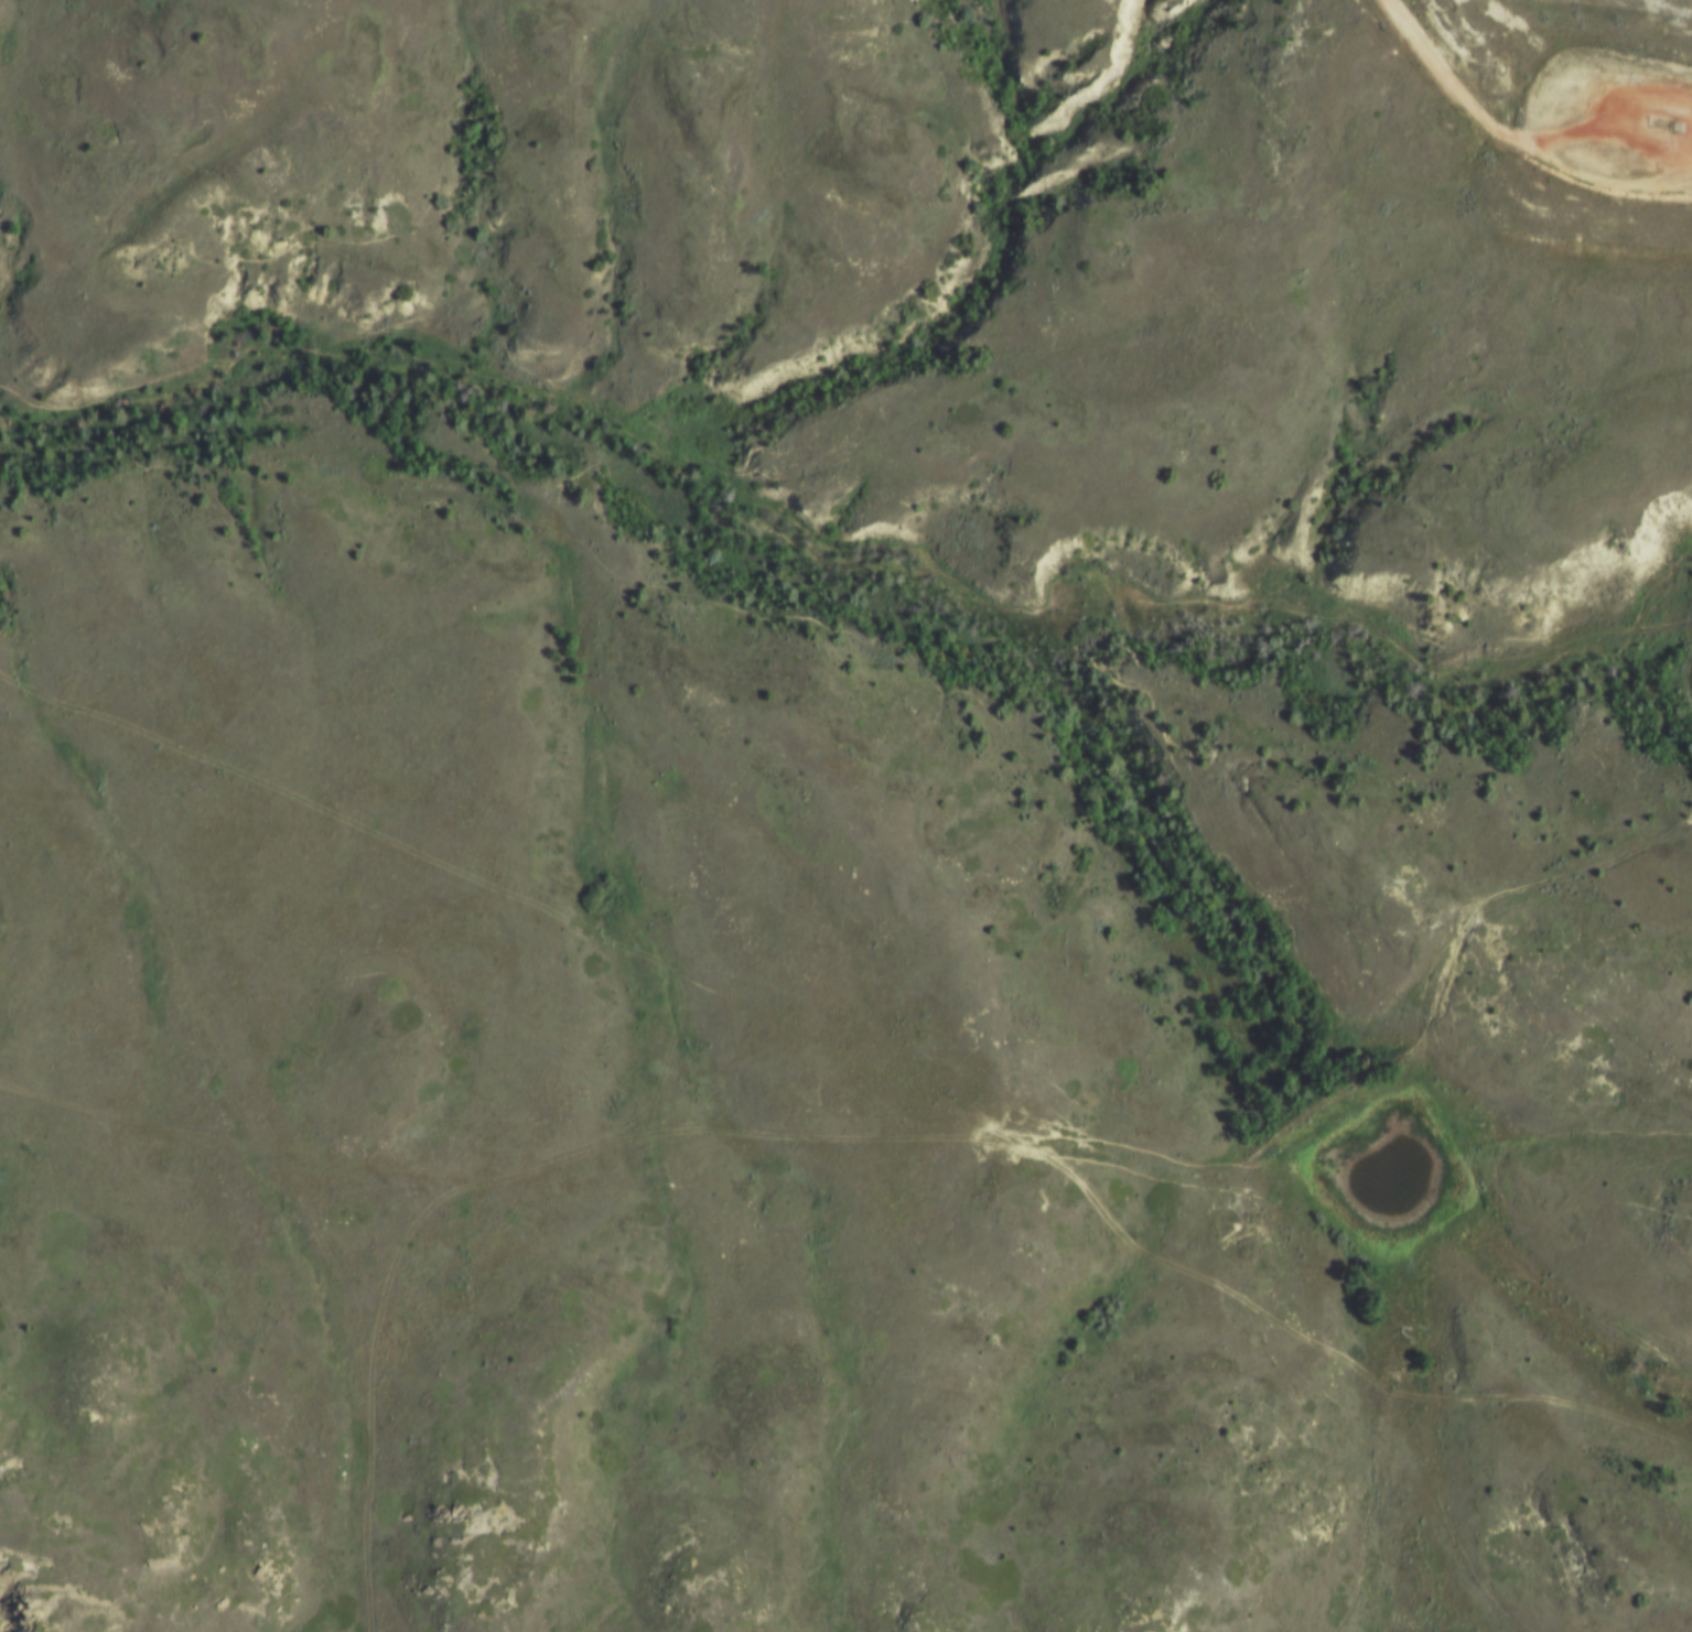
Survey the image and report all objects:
road: (1457, 94)
road: (1621, 99)
petroleum well: (1659, 121)
road: (1627, 140)

